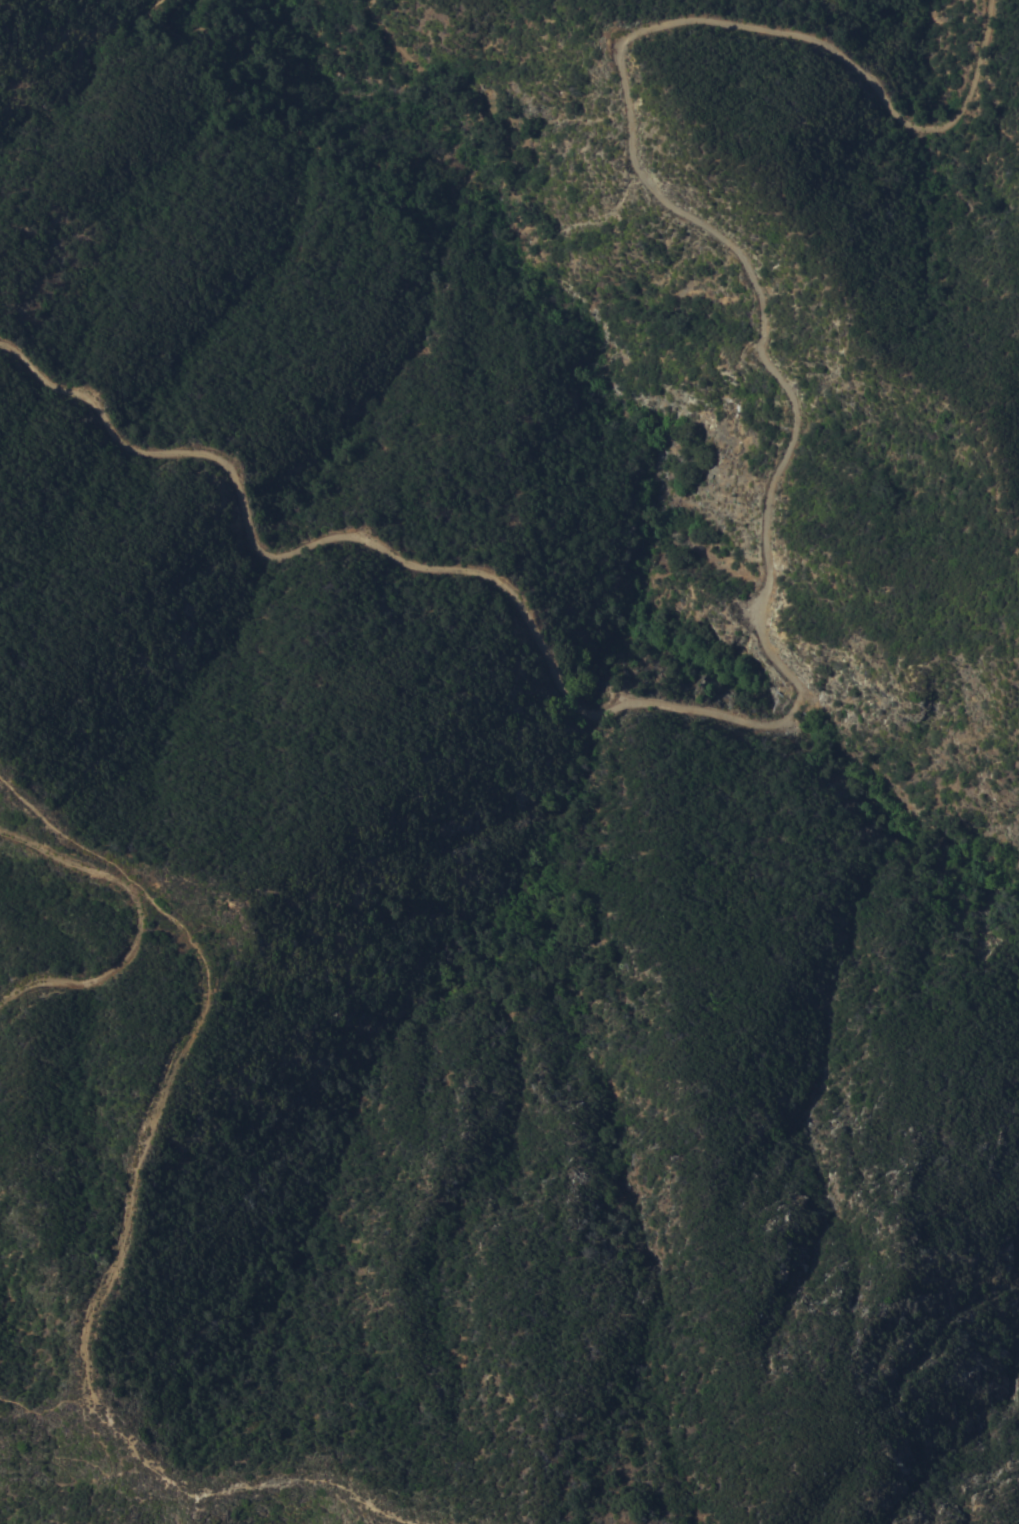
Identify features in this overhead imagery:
road: (365, 151)
road: (763, 589)
road: (59, 832)
road: (139, 918)
road: (96, 1301)

